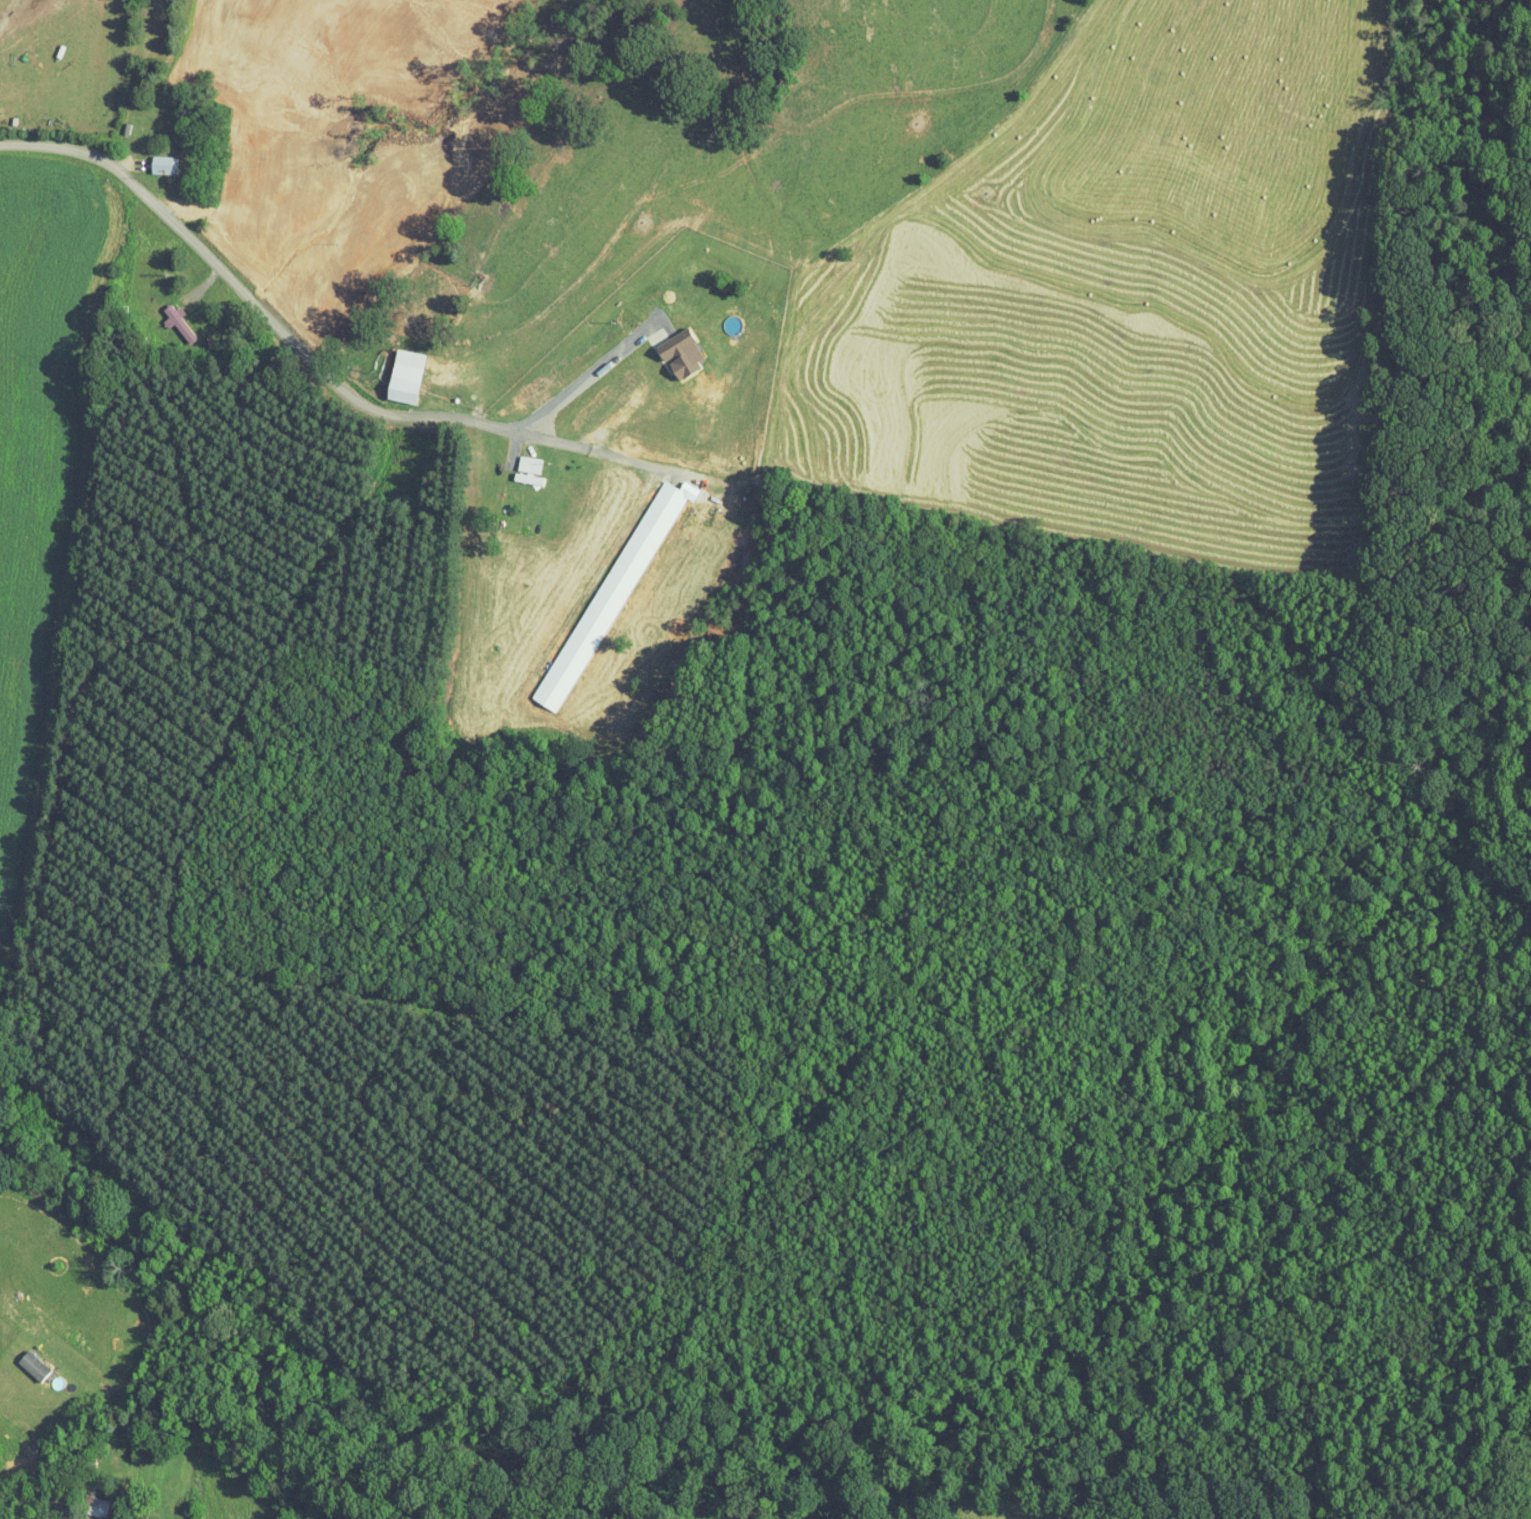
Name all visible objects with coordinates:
building: (165, 165)
road: (232, 287)
building: (683, 353)
building: (408, 377)
road: (572, 391)
road: (591, 449)
building: (573, 656)
building: (35, 1365)

